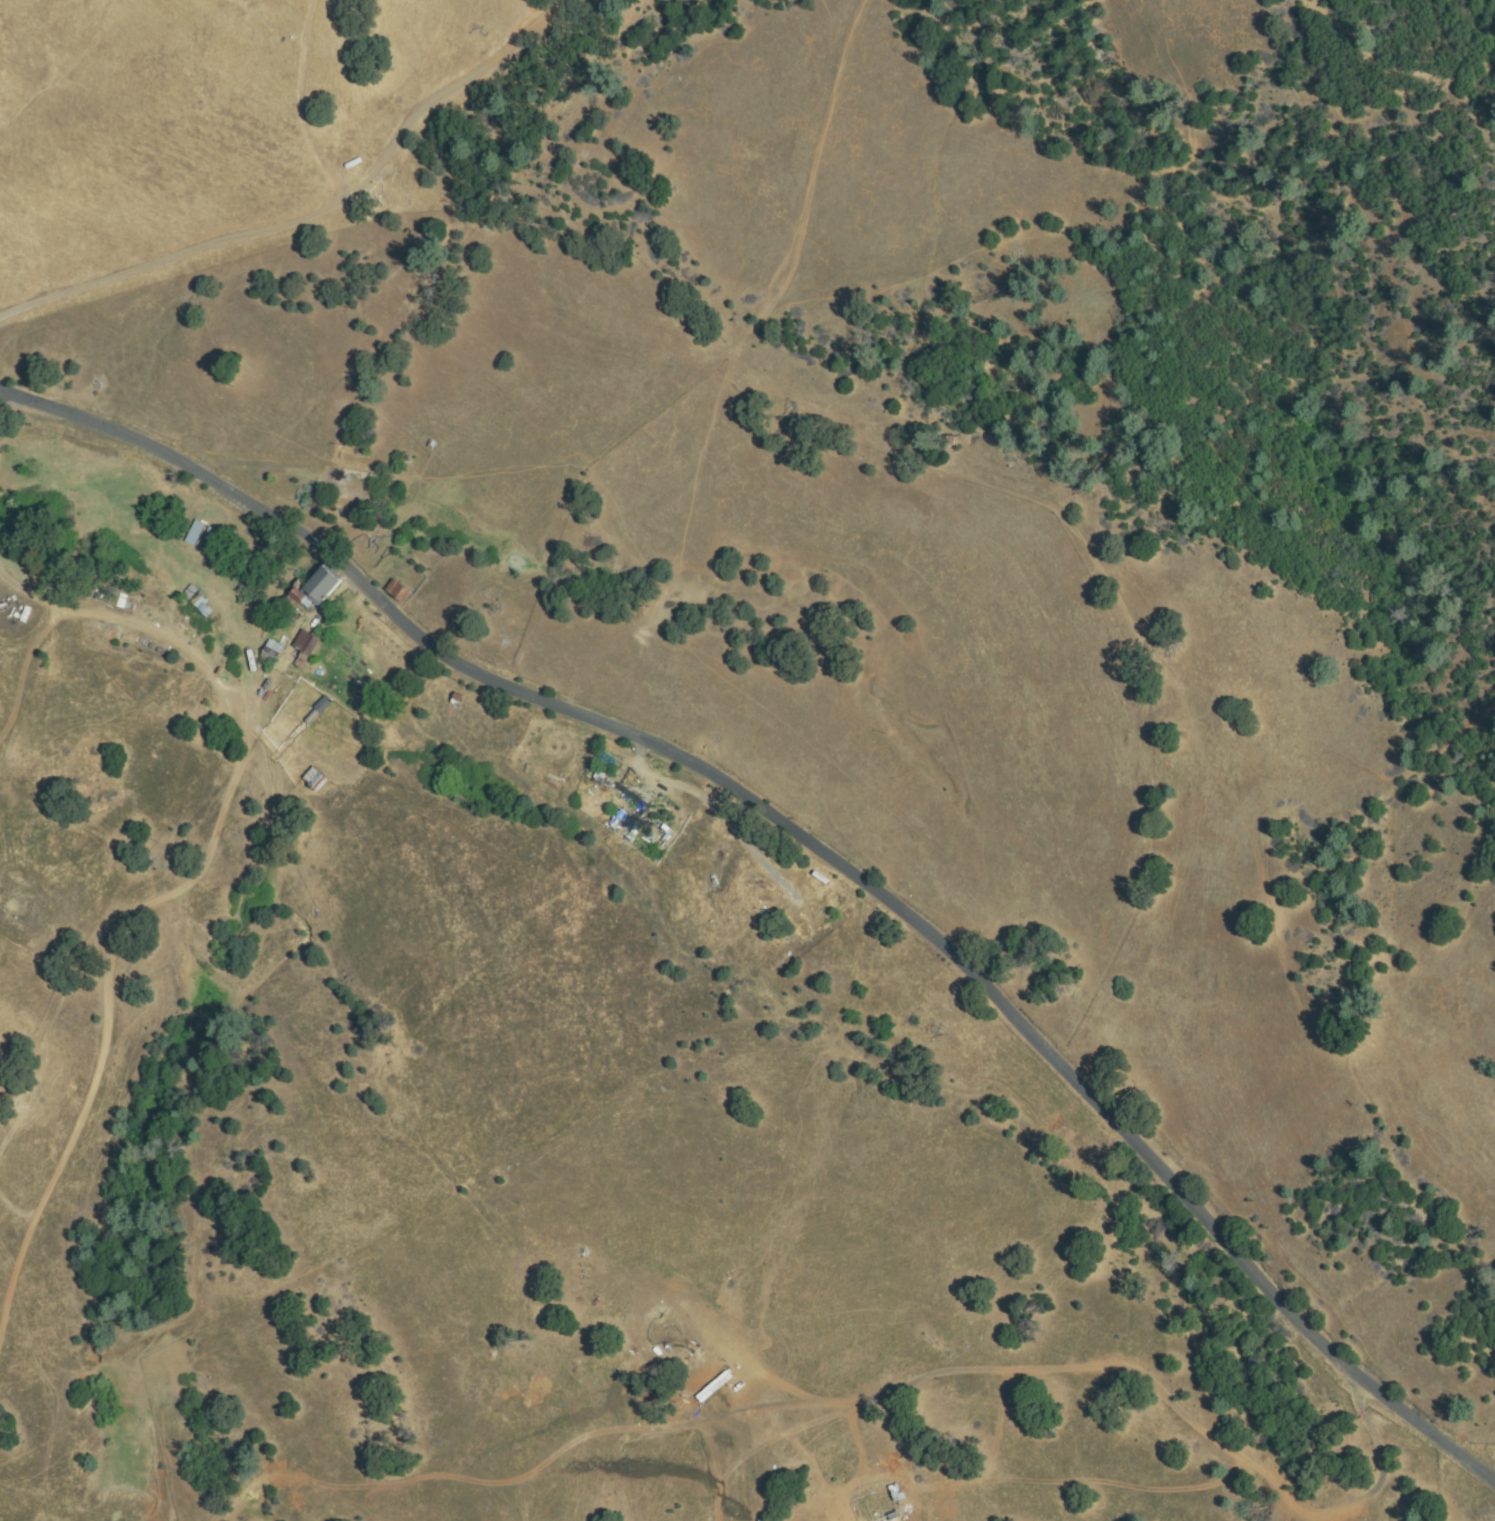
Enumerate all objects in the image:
road: (314, 212)
building: (194, 533)
building: (209, 541)
building: (315, 589)
building: (398, 591)
building: (189, 593)
building: (199, 604)
building: (305, 645)
building: (270, 654)
building: (319, 709)
building: (315, 780)
building: (247, 785)
road: (811, 844)
road: (164, 894)
building: (891, 1493)

